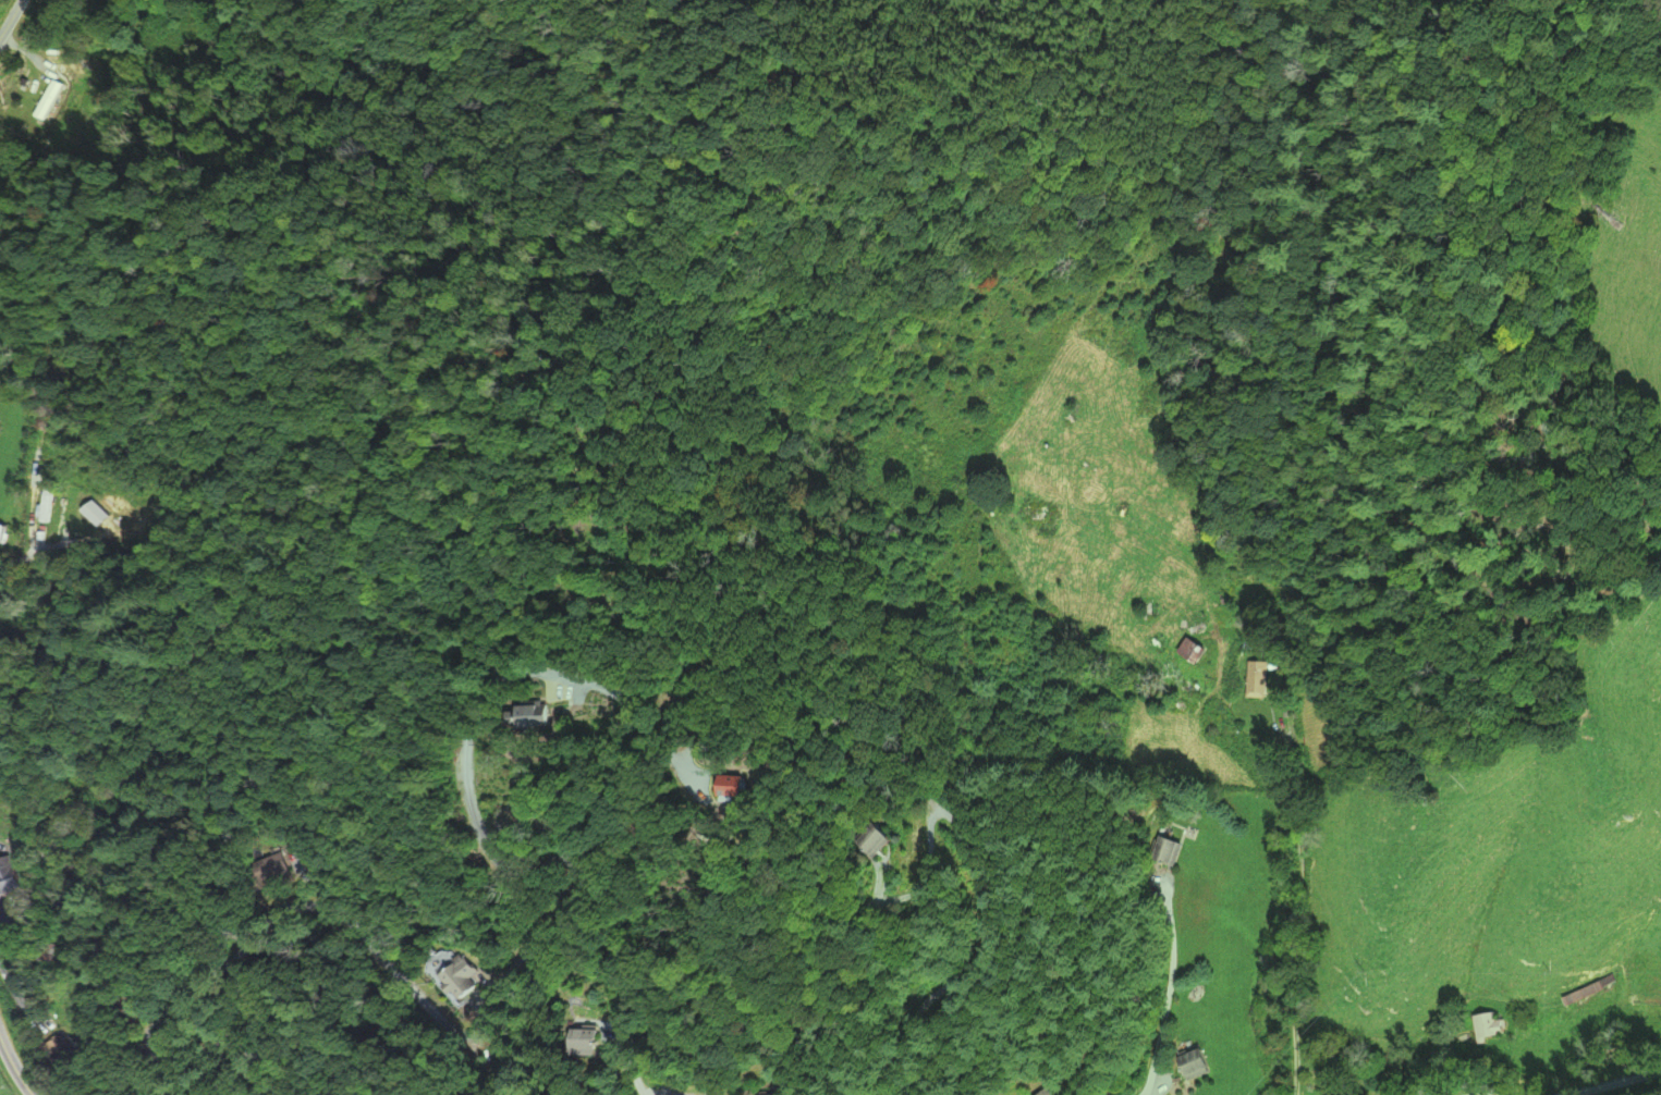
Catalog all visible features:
road: (11, 19)
building: (42, 98)
road: (468, 127)
building: (2, 532)
building: (1192, 649)
road: (544, 672)
building: (1251, 679)
building: (551, 721)
building: (49, 850)
building: (276, 866)
building: (8, 878)
road: (1294, 908)
road: (388, 968)
building: (455, 976)
road: (1165, 994)
building: (1486, 1025)
building: (58, 1046)
building: (1198, 1065)
road: (13, 1068)
road: (628, 1068)
road: (1615, 1083)
building: (1058, 1092)

